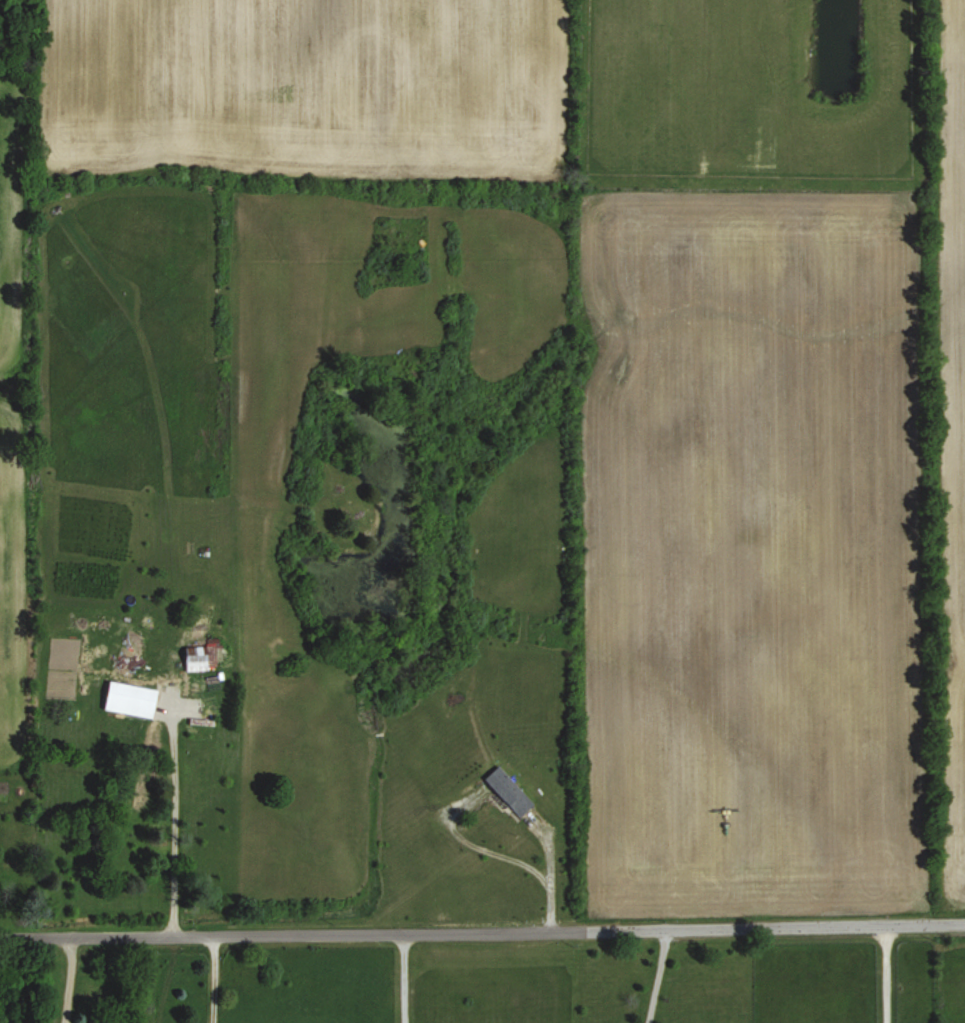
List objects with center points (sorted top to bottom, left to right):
building: (129, 653)
building: (204, 657)
building: (130, 700)
building: (198, 721)
building: (508, 791)
road: (172, 825)
road: (548, 857)
road: (519, 859)
road: (482, 930)
road: (656, 975)
road: (885, 975)
road: (216, 977)
road: (402, 977)
road: (68, 978)

